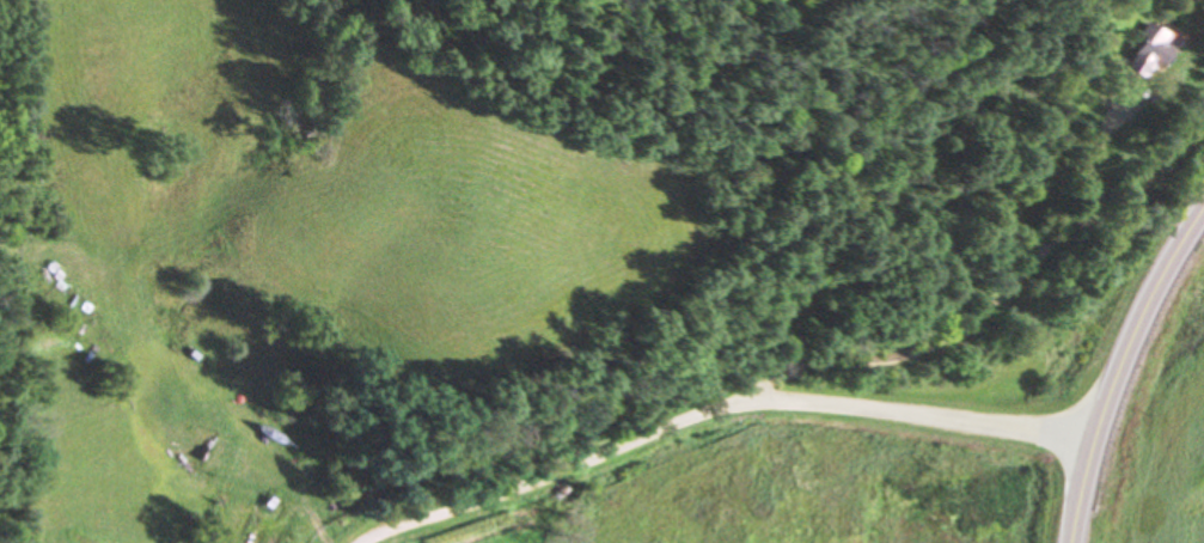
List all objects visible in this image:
building: (1139, 55)
road: (986, 300)
road: (1118, 368)
road: (711, 398)
building: (227, 431)

